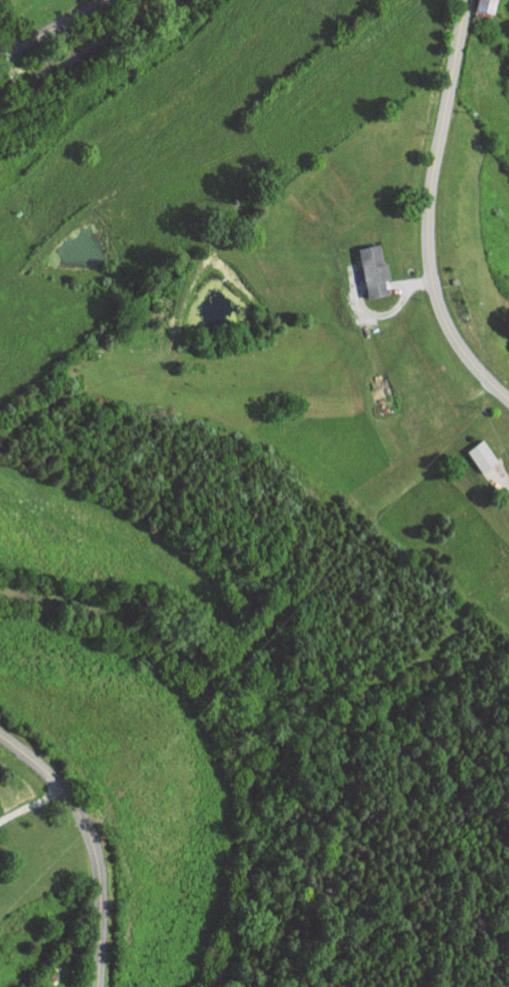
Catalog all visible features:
building: (483, 9)
road: (52, 28)
road: (428, 210)
building: (374, 269)
road: (409, 284)
road: (370, 315)
building: (482, 455)
road: (498, 476)
road: (31, 803)
road: (91, 841)

